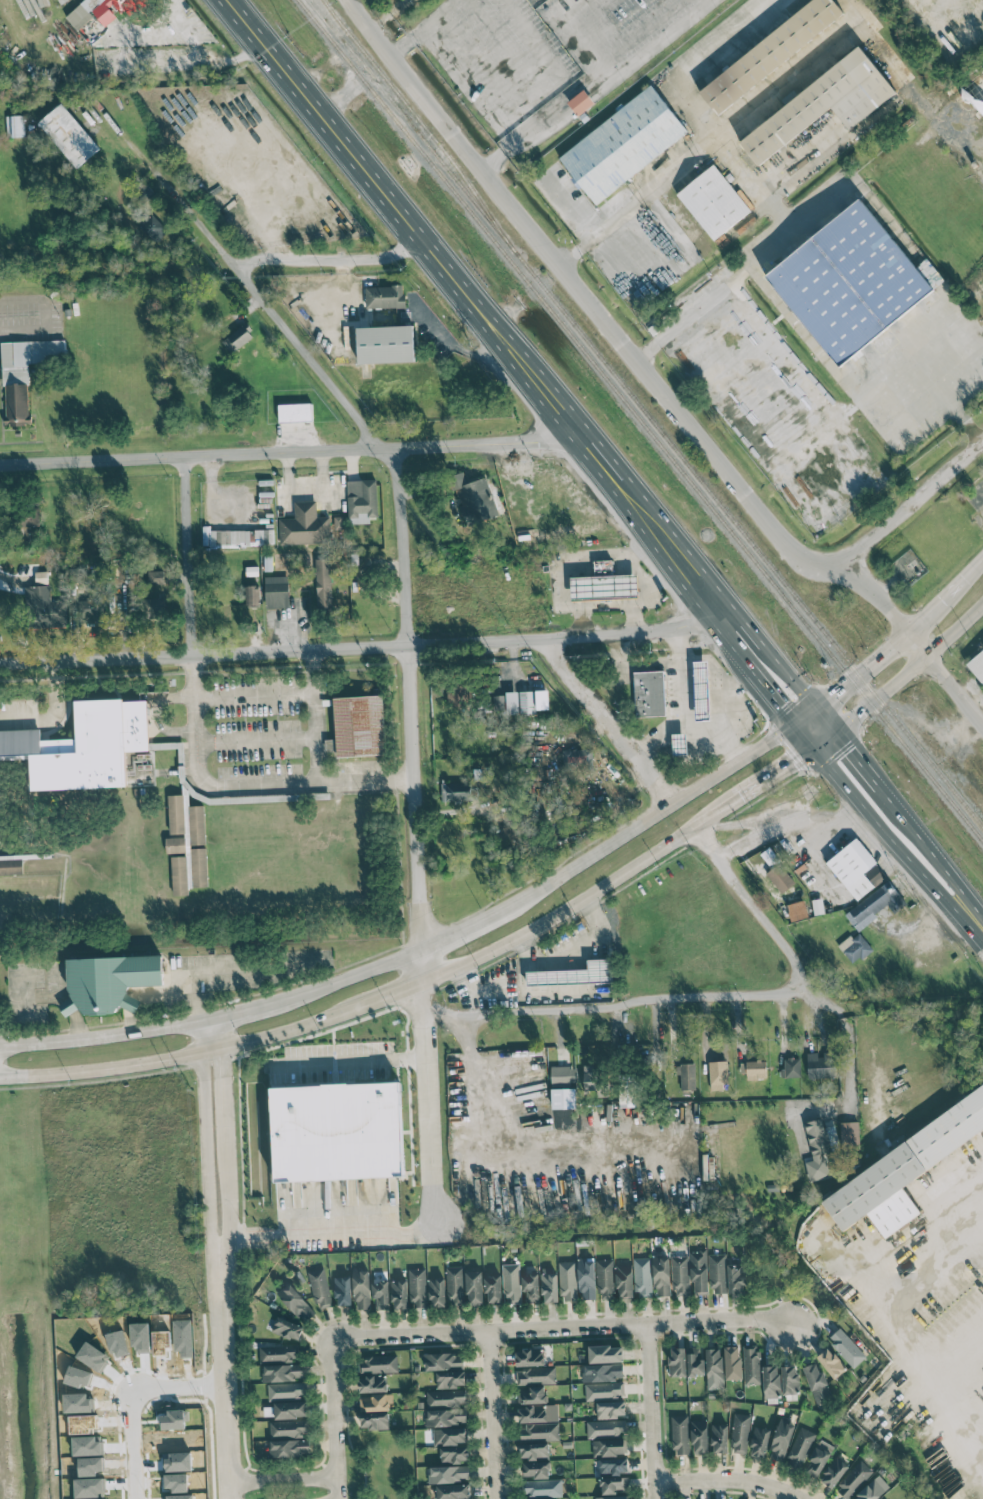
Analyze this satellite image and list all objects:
building: (100, 11)
road: (388, 15)
road: (424, 28)
road: (369, 29)
road: (575, 30)
road: (535, 37)
road: (655, 46)
building: (770, 52)
road: (354, 83)
building: (580, 102)
building: (821, 104)
road: (436, 115)
road: (539, 116)
railway: (422, 123)
building: (14, 126)
building: (68, 135)
building: (623, 146)
road: (740, 170)
road: (638, 203)
building: (712, 203)
road: (579, 204)
road: (405, 218)
road: (522, 218)
road: (771, 245)
road: (330, 258)
building: (848, 282)
building: (384, 297)
building: (690, 300)
road: (44, 314)
road: (277, 315)
building: (238, 338)
building: (388, 339)
road: (456, 347)
building: (24, 374)
road: (807, 401)
building: (295, 412)
railway: (646, 414)
railway: (639, 421)
road: (291, 452)
road: (597, 456)
road: (322, 471)
road: (286, 473)
road: (305, 492)
building: (362, 495)
building: (476, 501)
road: (913, 502)
road: (763, 509)
building: (30, 517)
building: (338, 523)
building: (305, 525)
building: (241, 538)
road: (667, 544)
road: (189, 555)
road: (574, 559)
road: (665, 575)
building: (154, 576)
building: (41, 578)
building: (323, 582)
building: (604, 584)
building: (276, 592)
road: (946, 593)
building: (252, 595)
road: (639, 603)
building: (46, 608)
building: (92, 608)
building: (154, 608)
road: (633, 617)
road: (954, 628)
road: (751, 631)
road: (731, 645)
road: (362, 646)
building: (977, 665)
road: (793, 680)
building: (701, 691)
building: (649, 693)
road: (253, 695)
road: (771, 696)
road: (410, 700)
building: (526, 702)
building: (498, 703)
traffic signals: (813, 703)
road: (871, 703)
road: (51, 712)
road: (314, 715)
road: (824, 717)
road: (607, 721)
traffic signals: (789, 721)
road: (687, 724)
building: (359, 726)
traffic signals: (835, 732)
road: (658, 735)
road: (802, 735)
road: (254, 738)
road: (728, 740)
building: (679, 744)
building: (330, 745)
building: (87, 748)
traffic signals: (816, 750)
road: (864, 768)
road: (778, 777)
road: (842, 781)
road: (241, 786)
building: (455, 792)
road: (799, 829)
building: (186, 845)
road: (939, 861)
road: (579, 862)
building: (856, 869)
road: (924, 874)
building: (780, 878)
road: (585, 899)
building: (877, 902)
building: (797, 911)
road: (754, 913)
building: (855, 947)
road: (422, 968)
building: (573, 975)
road: (191, 979)
building: (109, 982)
road: (393, 994)
road: (53, 997)
road: (425, 1001)
road: (196, 1004)
road: (620, 1008)
road: (106, 1037)
road: (858, 1046)
road: (185, 1060)
road: (350, 1061)
building: (821, 1065)
building: (791, 1068)
building: (755, 1069)
building: (562, 1074)
building: (718, 1074)
building: (687, 1076)
building: (589, 1078)
building: (563, 1098)
building: (626, 1099)
road: (431, 1120)
building: (337, 1131)
road: (216, 1132)
building: (849, 1133)
building: (819, 1148)
road: (495, 1156)
building: (901, 1172)
road: (960, 1190)
road: (329, 1225)
building: (699, 1271)
building: (718, 1273)
building: (661, 1274)
building: (680, 1275)
building: (642, 1277)
building: (736, 1278)
building: (586, 1279)
building: (605, 1279)
building: (624, 1280)
building: (567, 1281)
building: (511, 1283)
building: (549, 1286)
building: (455, 1287)
building: (474, 1287)
building: (320, 1288)
building: (417, 1288)
building: (530, 1288)
building: (361, 1289)
building: (493, 1289)
building: (342, 1290)
building: (436, 1292)
building: (399, 1294)
building: (381, 1295)
building: (296, 1303)
road: (897, 1322)
building: (287, 1329)
road: (565, 1329)
building: (846, 1347)
building: (278, 1353)
building: (605, 1354)
building: (529, 1357)
building: (443, 1361)
building: (677, 1362)
building: (732, 1363)
building: (831, 1363)
building: (714, 1364)
building: (752, 1365)
building: (695, 1366)
road: (226, 1368)
building: (282, 1372)
building: (603, 1372)
building: (537, 1375)
building: (451, 1379)
building: (789, 1380)
building: (771, 1382)
building: (372, 1384)
building: (817, 1385)
building: (604, 1390)
building: (287, 1391)
building: (531, 1395)
building: (445, 1398)
building: (375, 1403)
road: (137, 1404)
building: (611, 1409)
building: (286, 1410)
road: (653, 1412)
building: (532, 1414)
road: (493, 1415)
road: (331, 1417)
building: (446, 1417)
building: (374, 1421)
building: (289, 1428)
building: (606, 1428)
building: (538, 1431)
building: (740, 1433)
building: (680, 1434)
building: (699, 1436)
building: (719, 1438)
building: (781, 1439)
building: (760, 1442)
building: (452, 1444)
building: (608, 1447)
building: (800, 1447)
building: (289, 1448)
building: (534, 1450)
building: (818, 1458)
building: (613, 1466)
building: (536, 1469)
building: (834, 1472)
building: (448, 1474)
road: (282, 1476)
road: (731, 1480)
building: (854, 1480)
building: (613, 1485)
building: (542, 1488)
building: (873, 1489)
building: (453, 1491)
building: (612, 1497)

